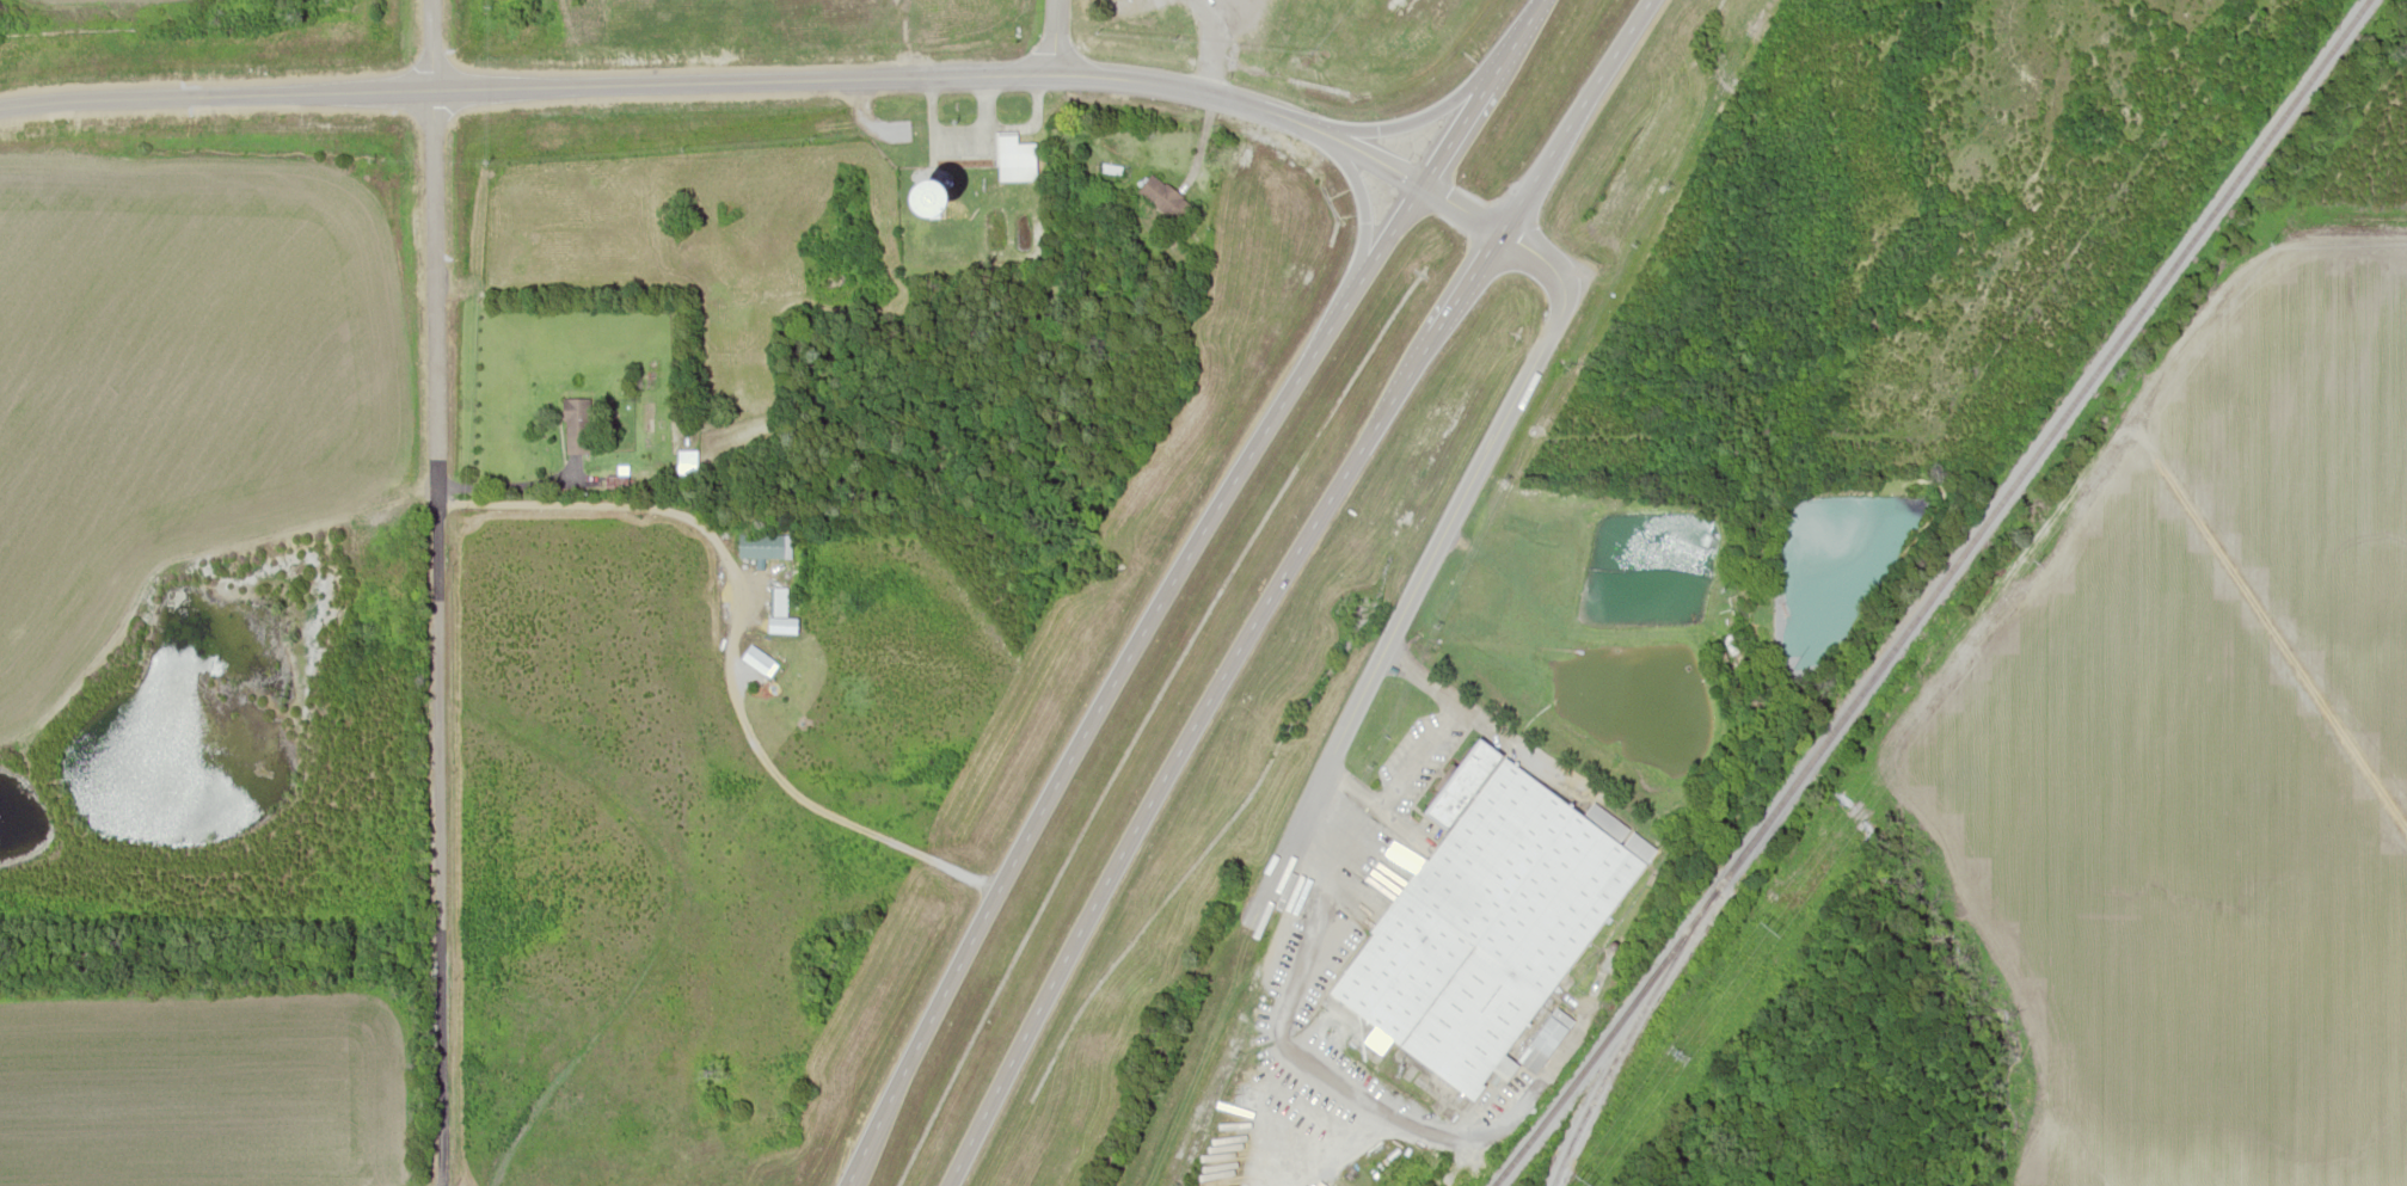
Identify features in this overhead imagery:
road: (1051, 37)
road: (1511, 44)
road: (766, 79)
road: (1576, 115)
road: (1454, 136)
building: (1015, 161)
building: (1163, 198)
building: (929, 199)
road: (1469, 281)
building: (576, 425)
building: (686, 462)
building: (759, 546)
road: (1430, 563)
road: (435, 592)
railway: (1934, 594)
building: (776, 602)
road: (727, 641)
building: (750, 656)
road: (1117, 676)
road: (1181, 752)
building: (1488, 923)
railway: (1626, 1034)

